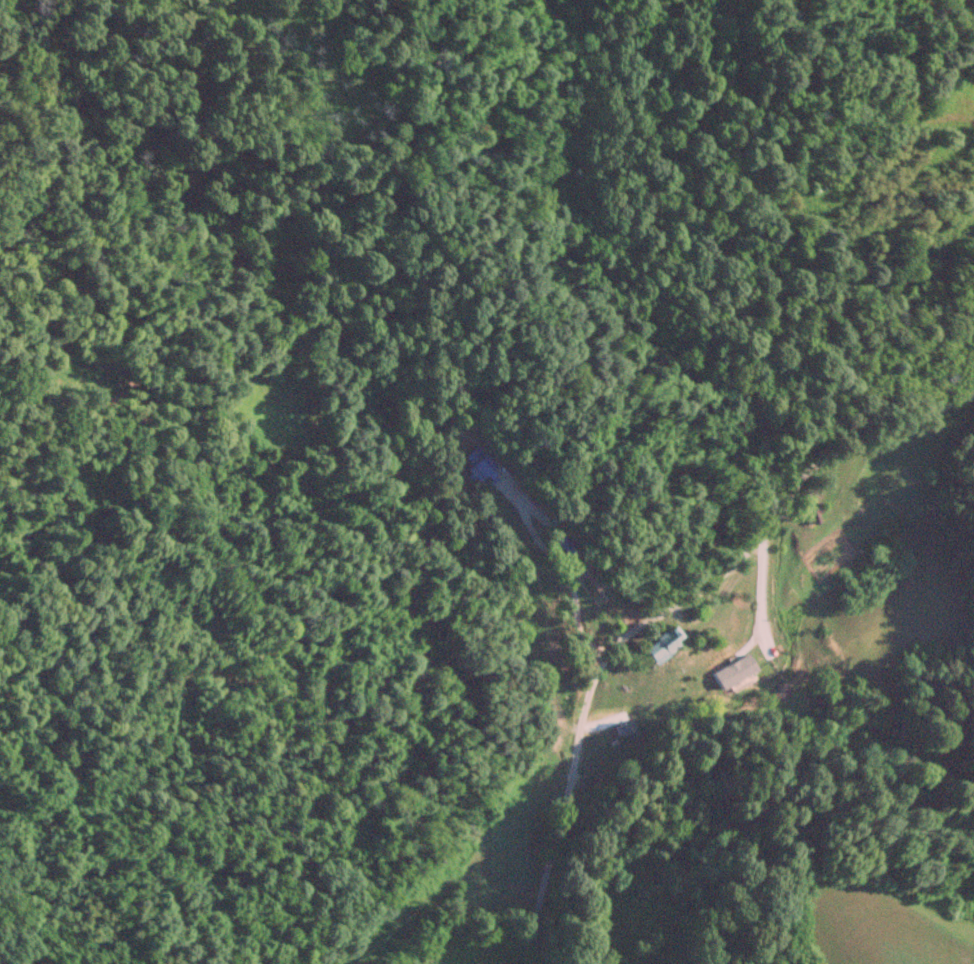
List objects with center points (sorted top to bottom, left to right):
road: (671, 586)

